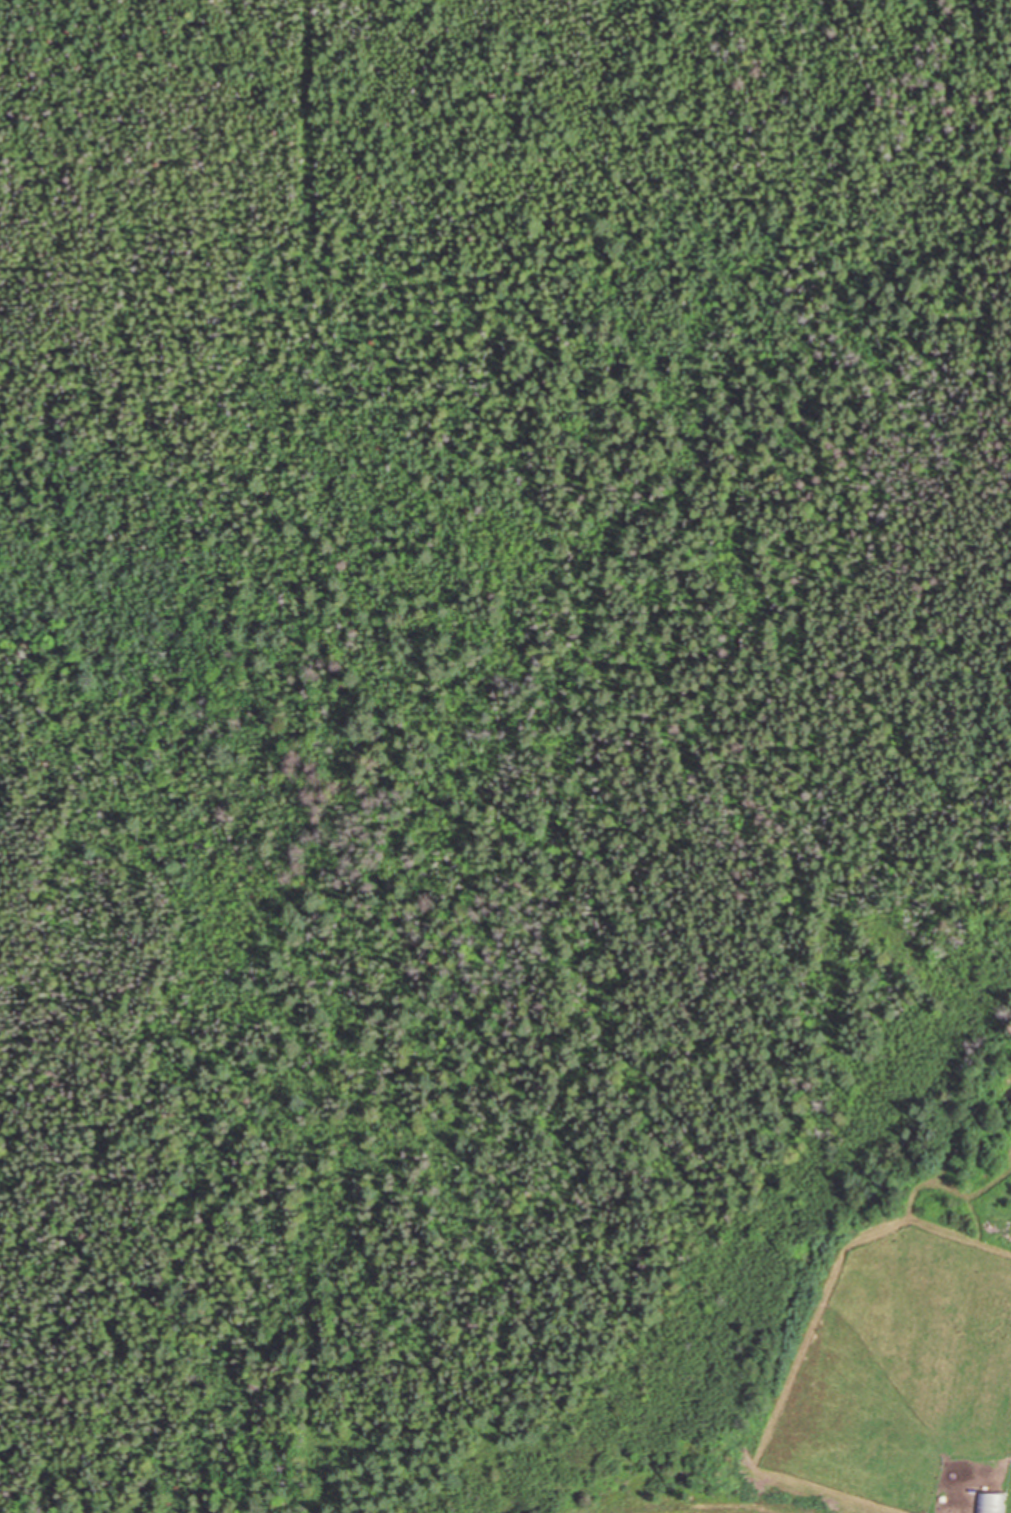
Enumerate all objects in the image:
building: (992, 1502)

